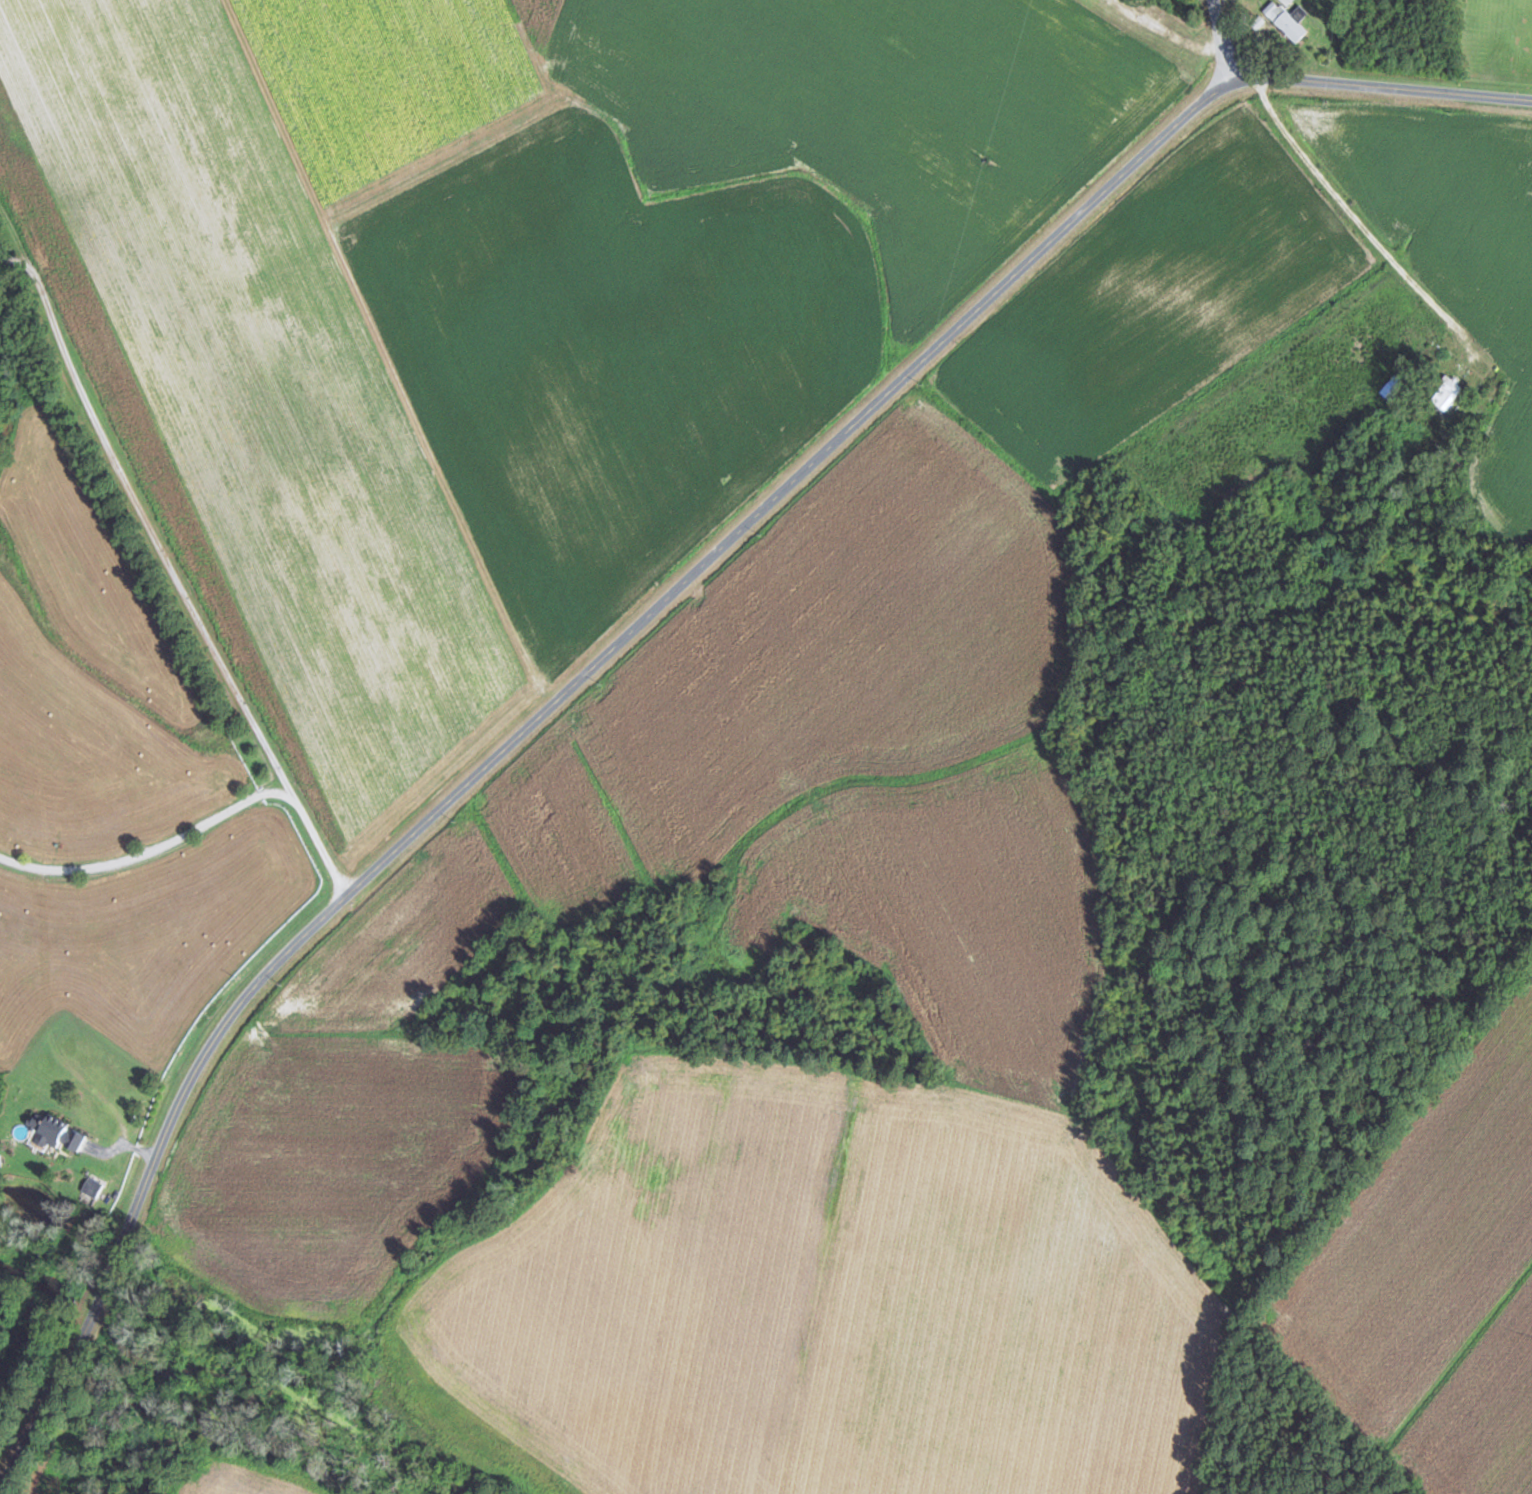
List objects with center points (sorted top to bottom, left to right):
building: (1288, 20)
road: (1224, 36)
road: (1325, 240)
building: (1448, 394)
road: (138, 466)
road: (645, 619)
road: (124, 839)
road: (273, 861)
building: (58, 1133)

